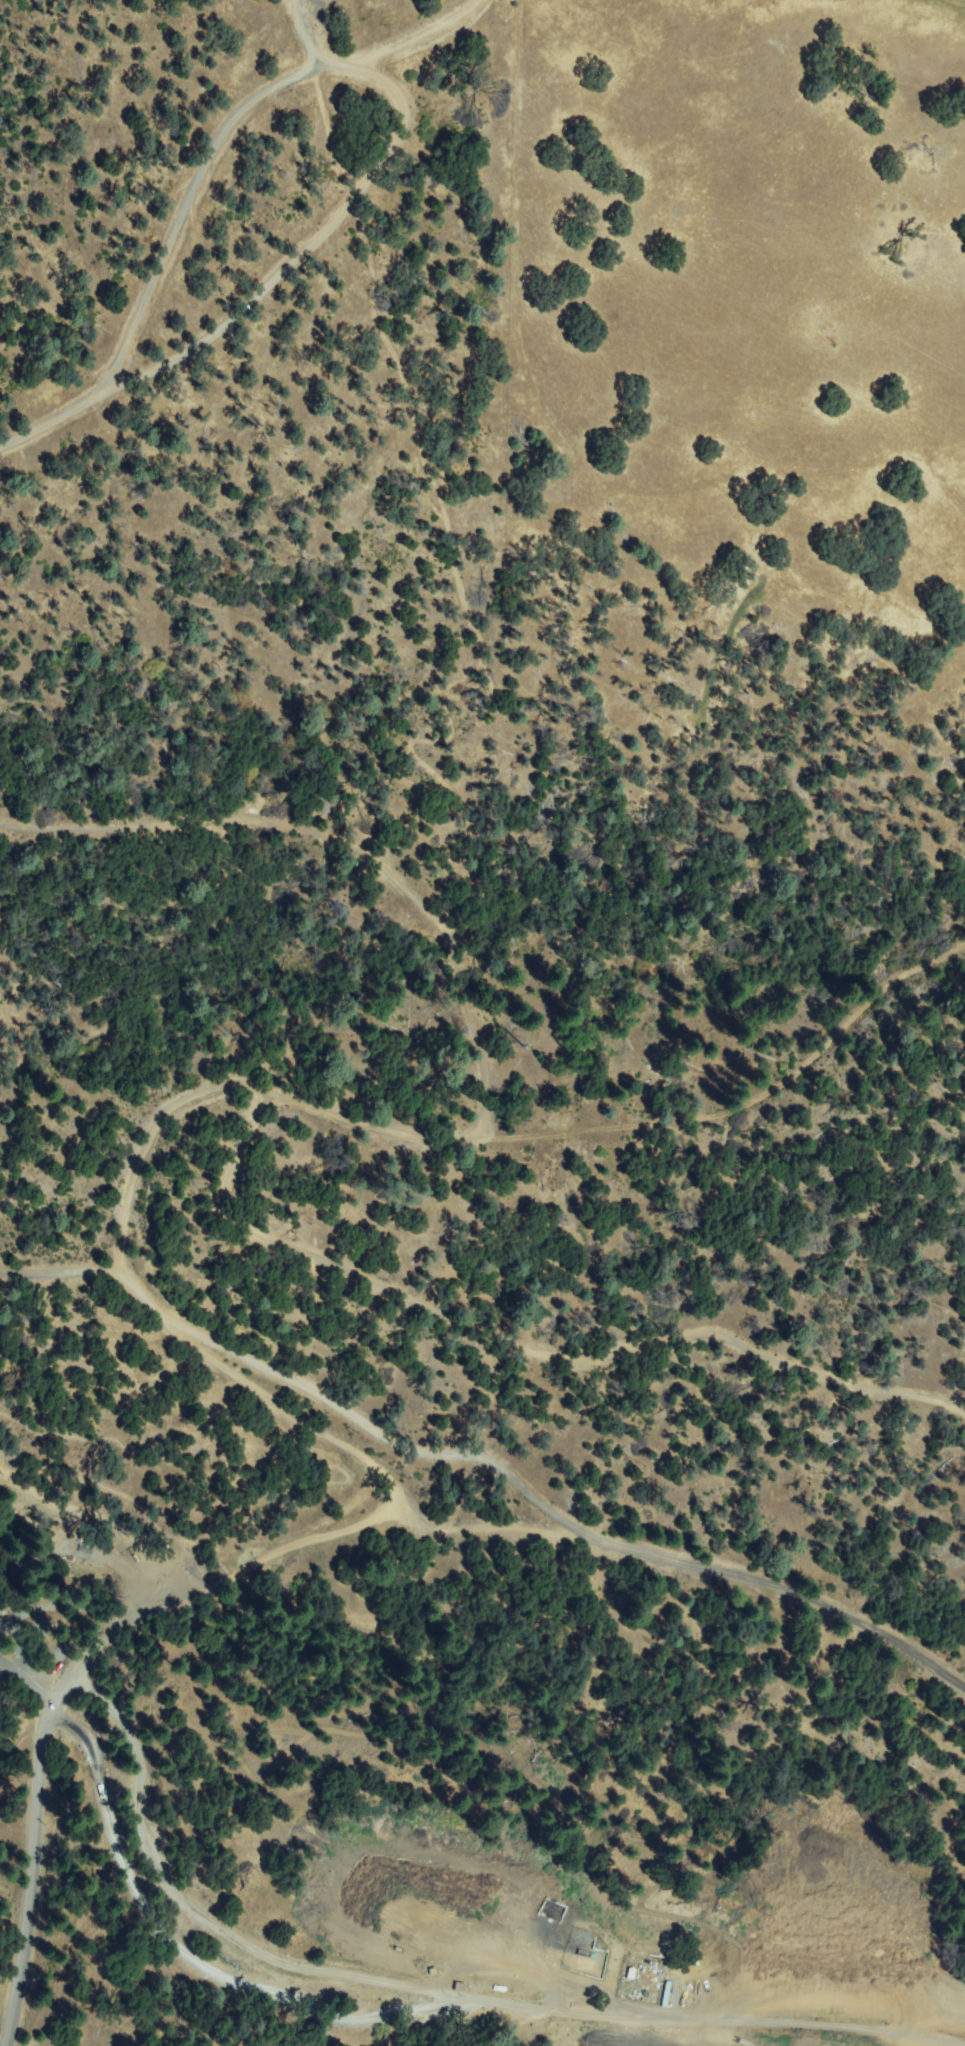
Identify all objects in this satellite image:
road: (284, 11)
road: (303, 42)
road: (91, 134)
road: (163, 255)
road: (886, 327)
road: (352, 846)
road: (308, 1105)
road: (60, 1268)
road: (527, 1348)
road: (324, 1533)
road: (431, 1991)

